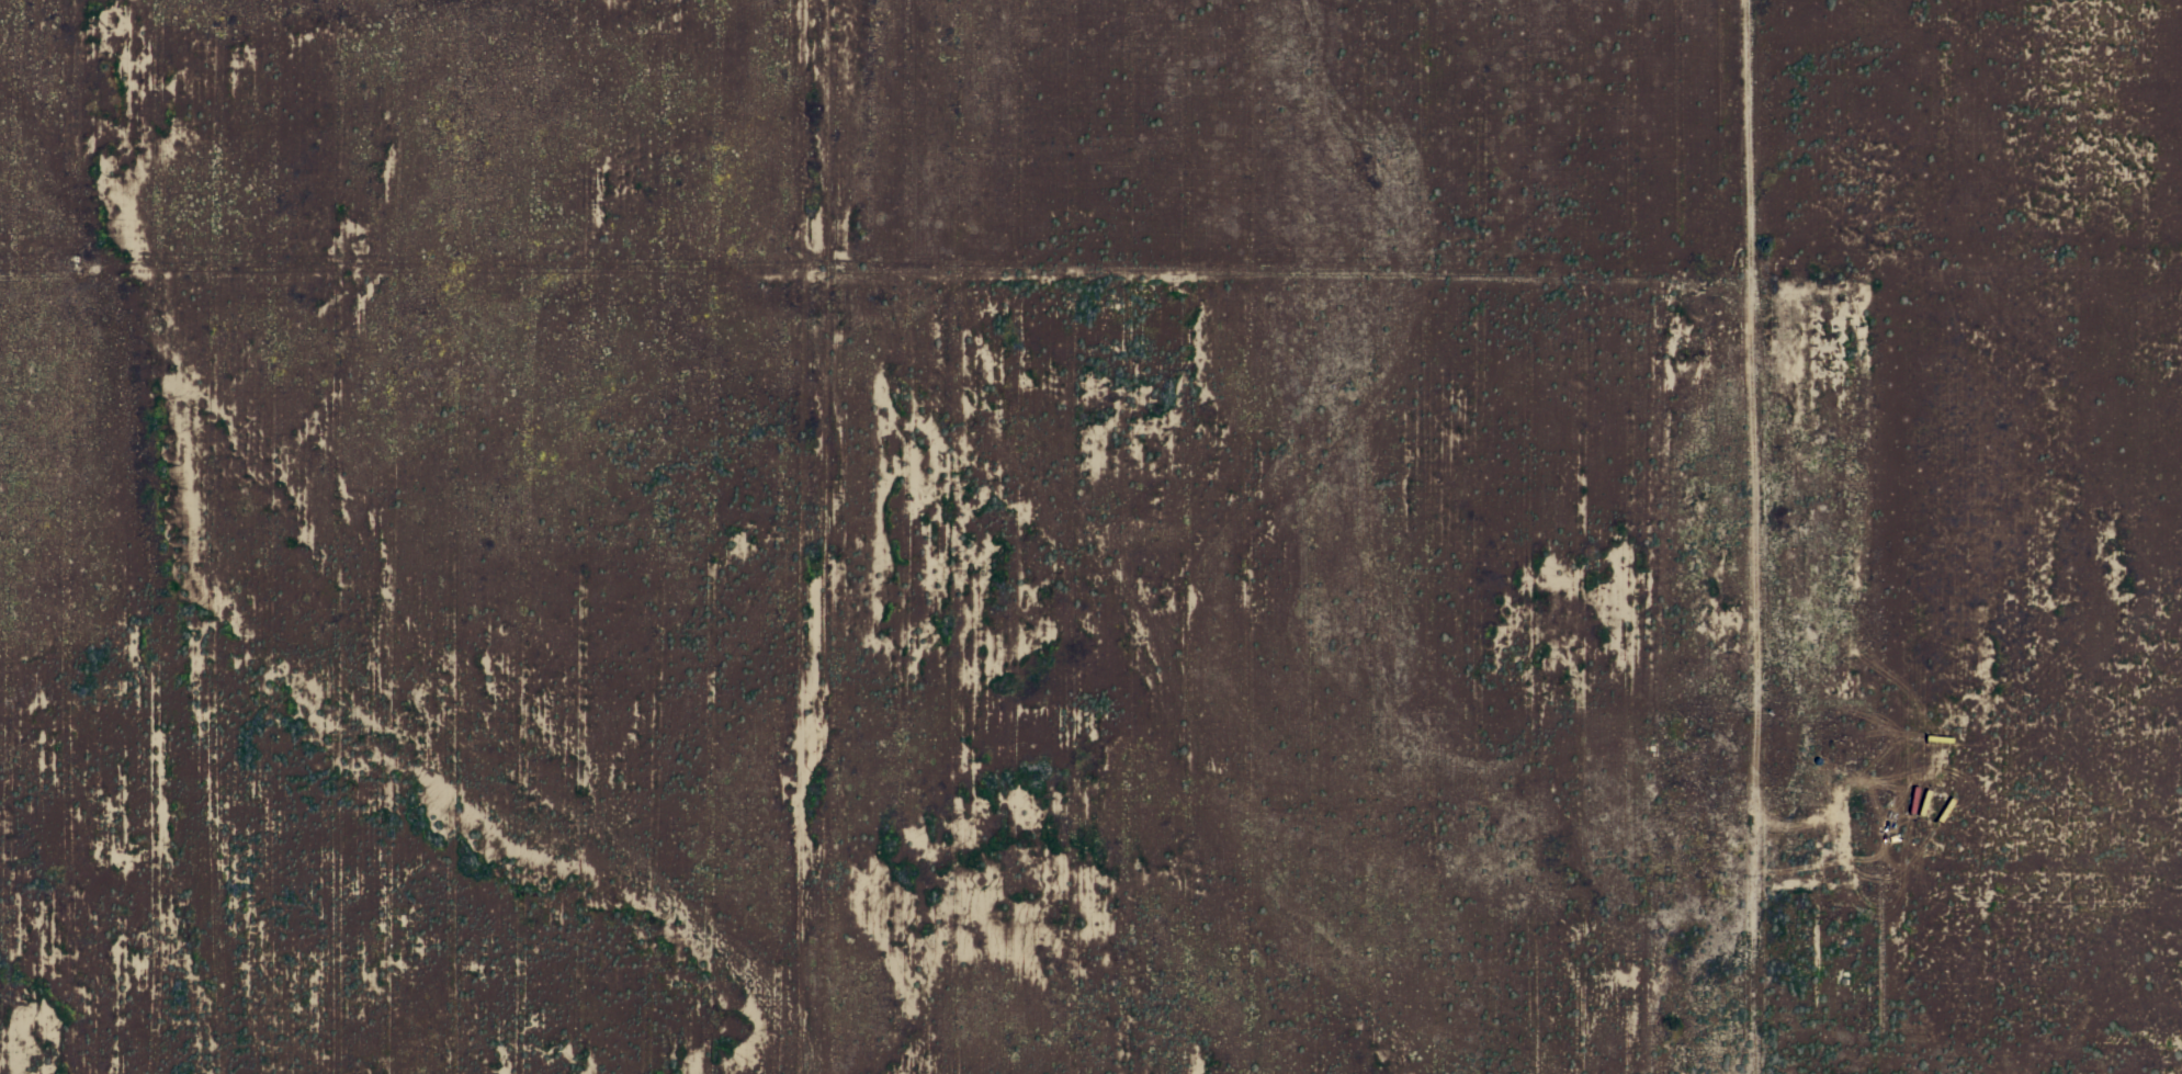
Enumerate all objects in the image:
road: (757, 414)

